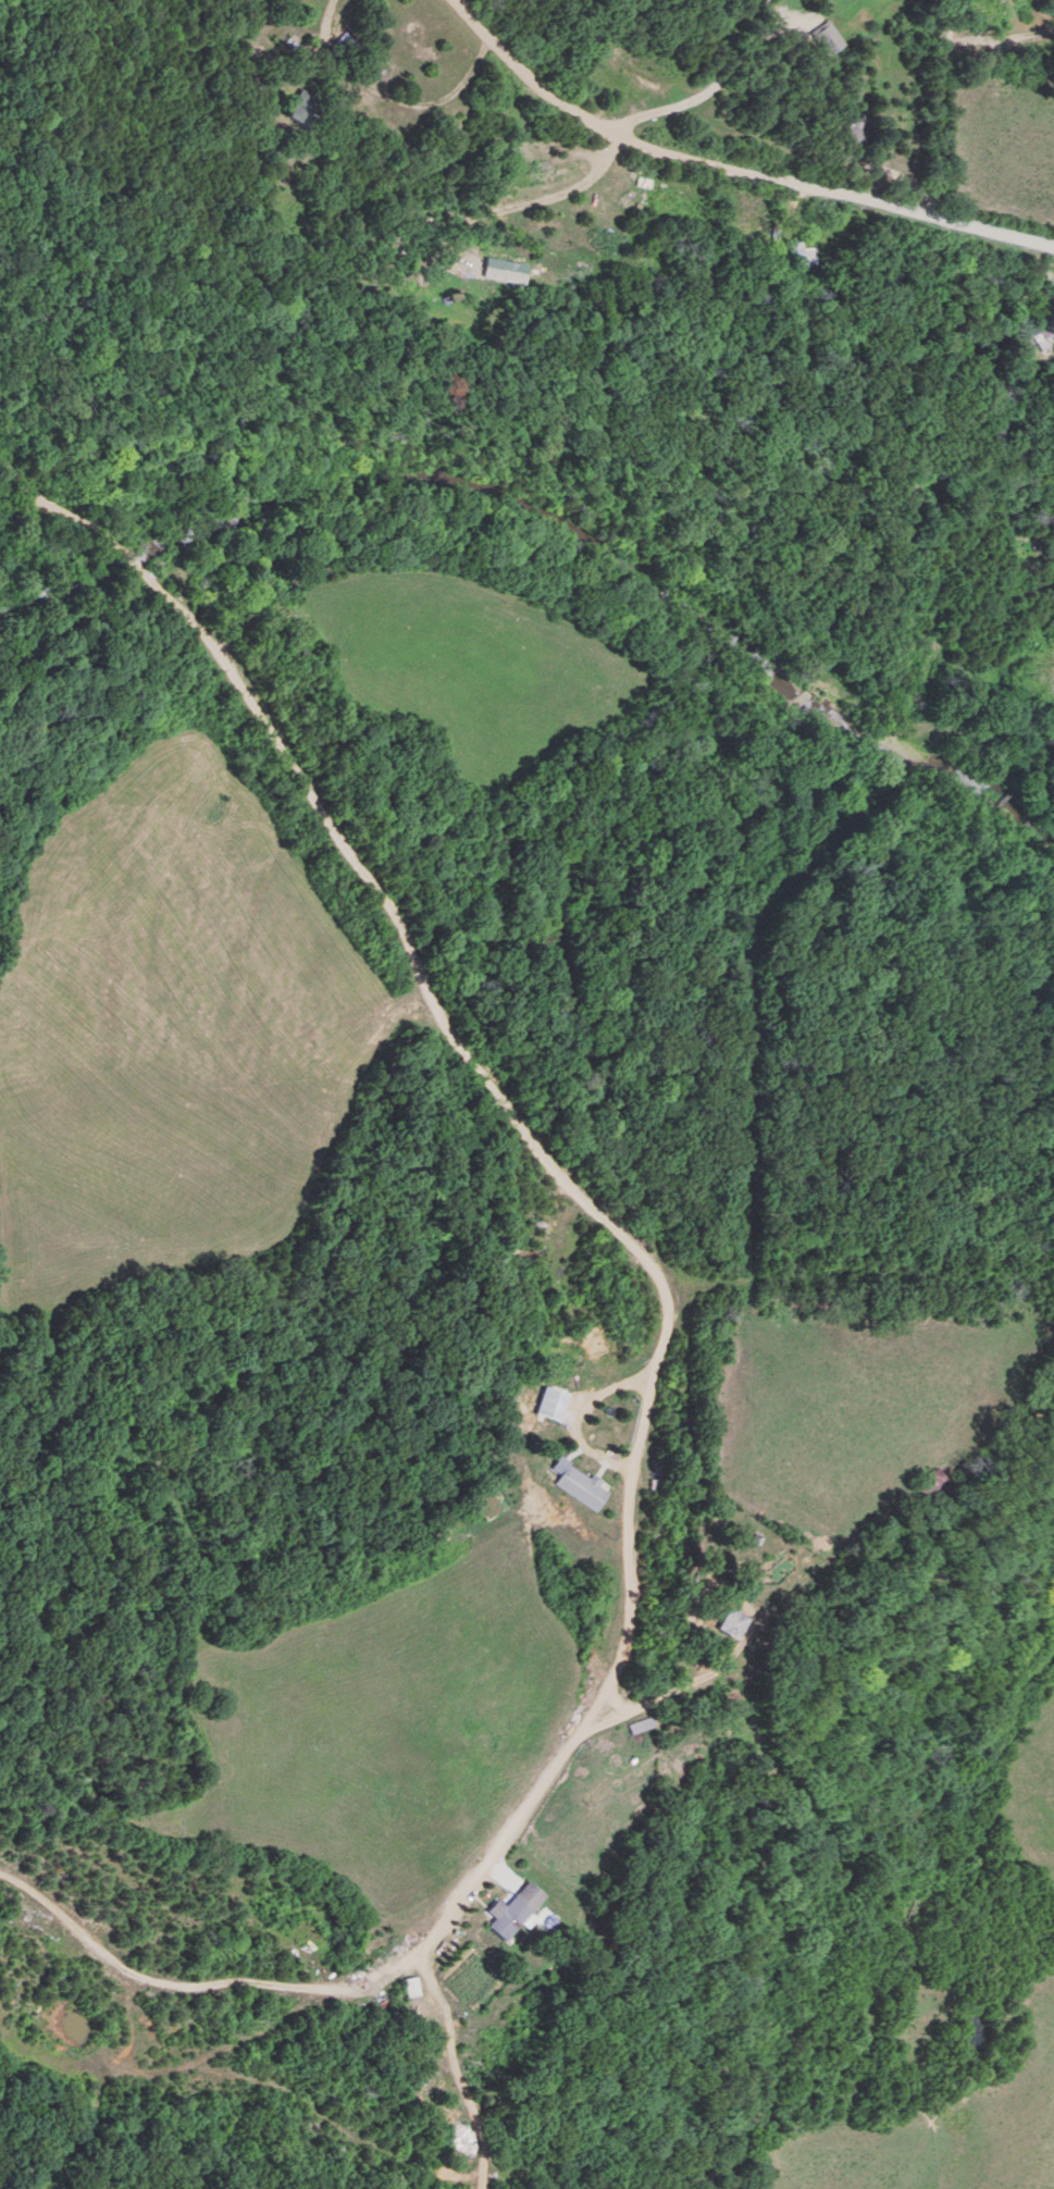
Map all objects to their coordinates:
building: (336, 45)
road: (711, 89)
road: (385, 98)
road: (938, 109)
building: (548, 174)
road: (727, 174)
building: (793, 256)
building: (1040, 329)
road: (64, 504)
building: (1053, 514)
building: (1041, 669)
road: (622, 812)
road: (419, 904)
road: (344, 1129)
road: (578, 1418)
building: (931, 1485)
building: (582, 1487)
building: (732, 1622)
road: (523, 1815)
building: (513, 1909)
building: (410, 1987)

